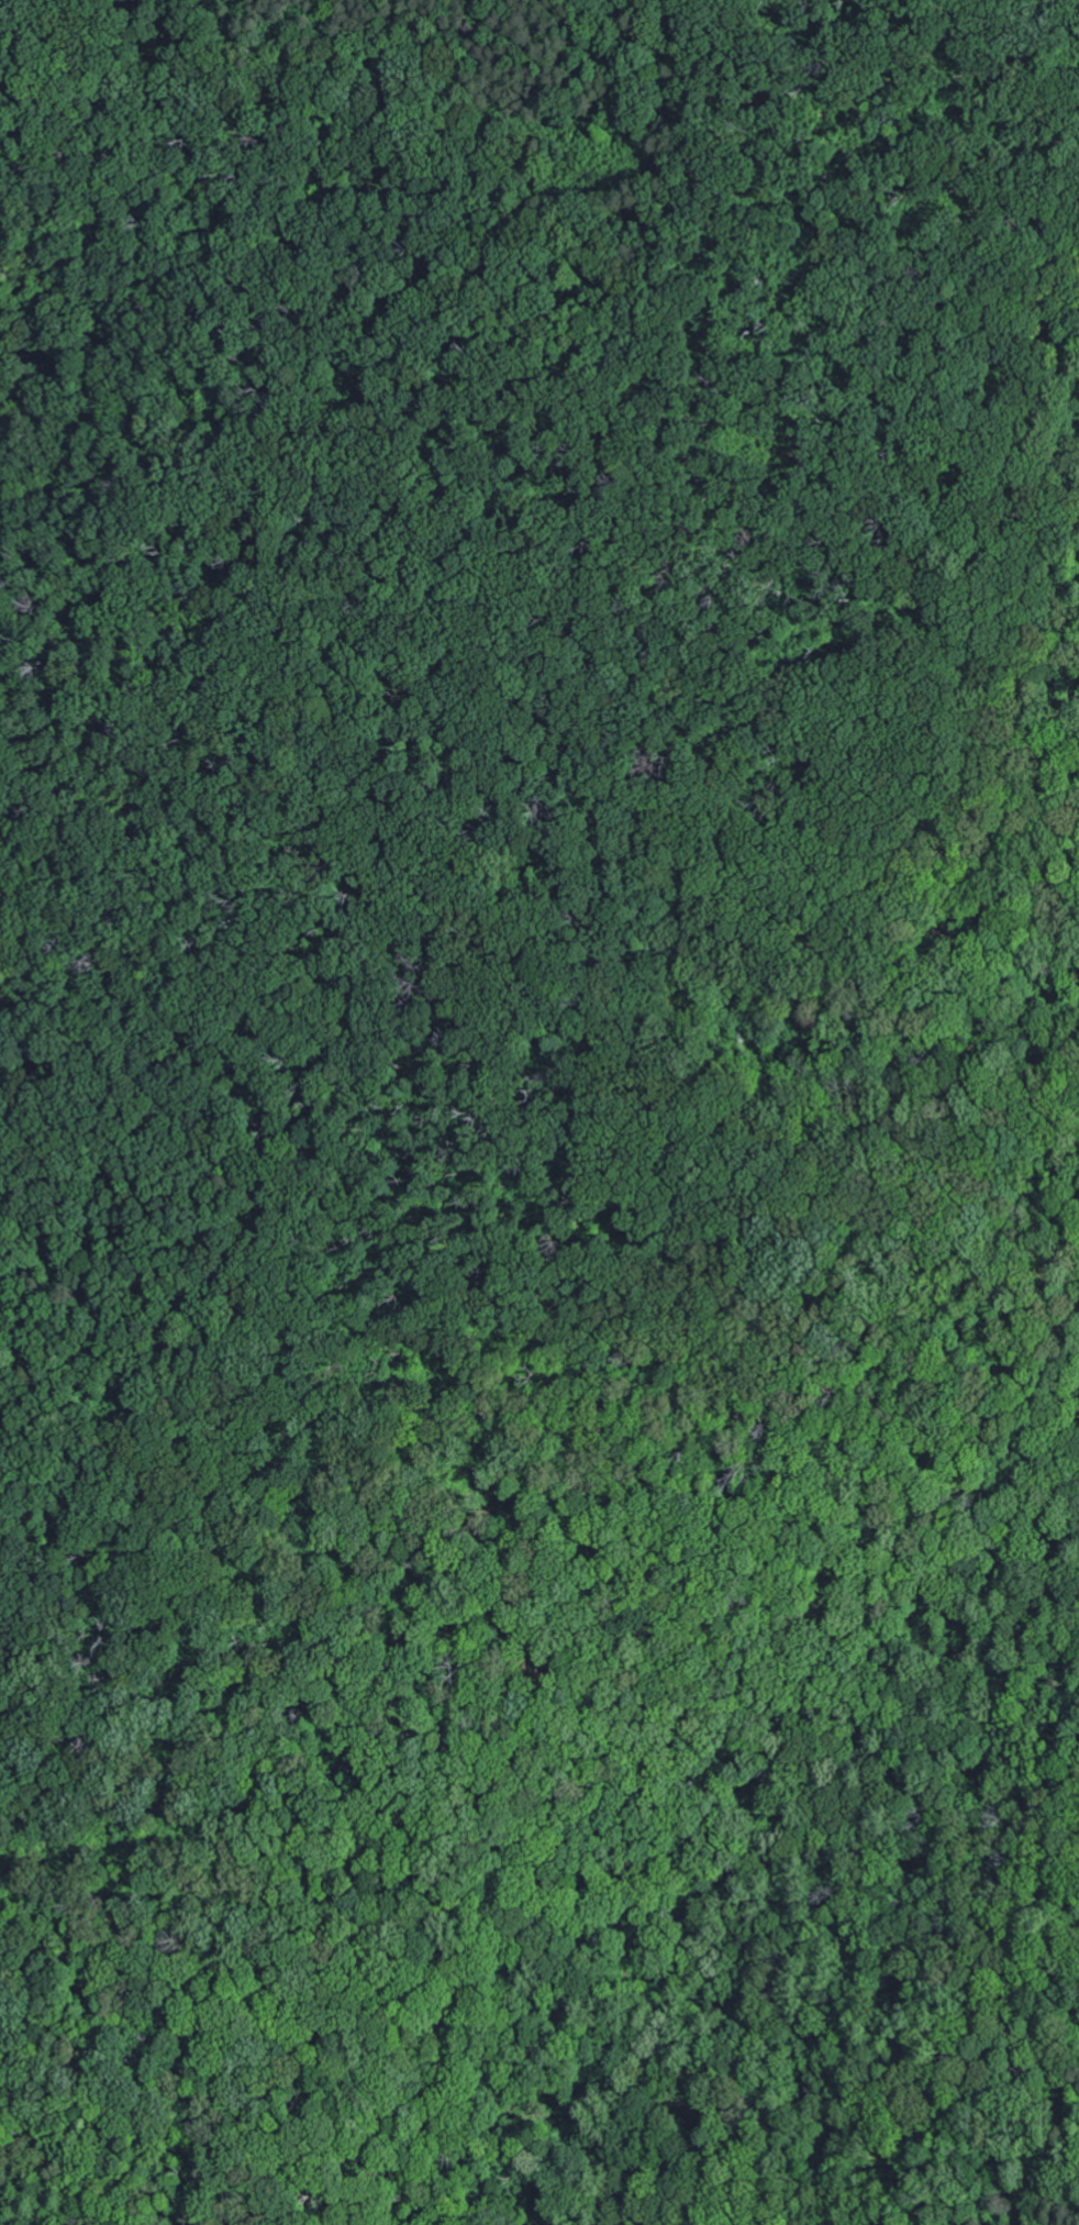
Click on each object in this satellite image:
road: (699, 1778)
road: (880, 1920)

